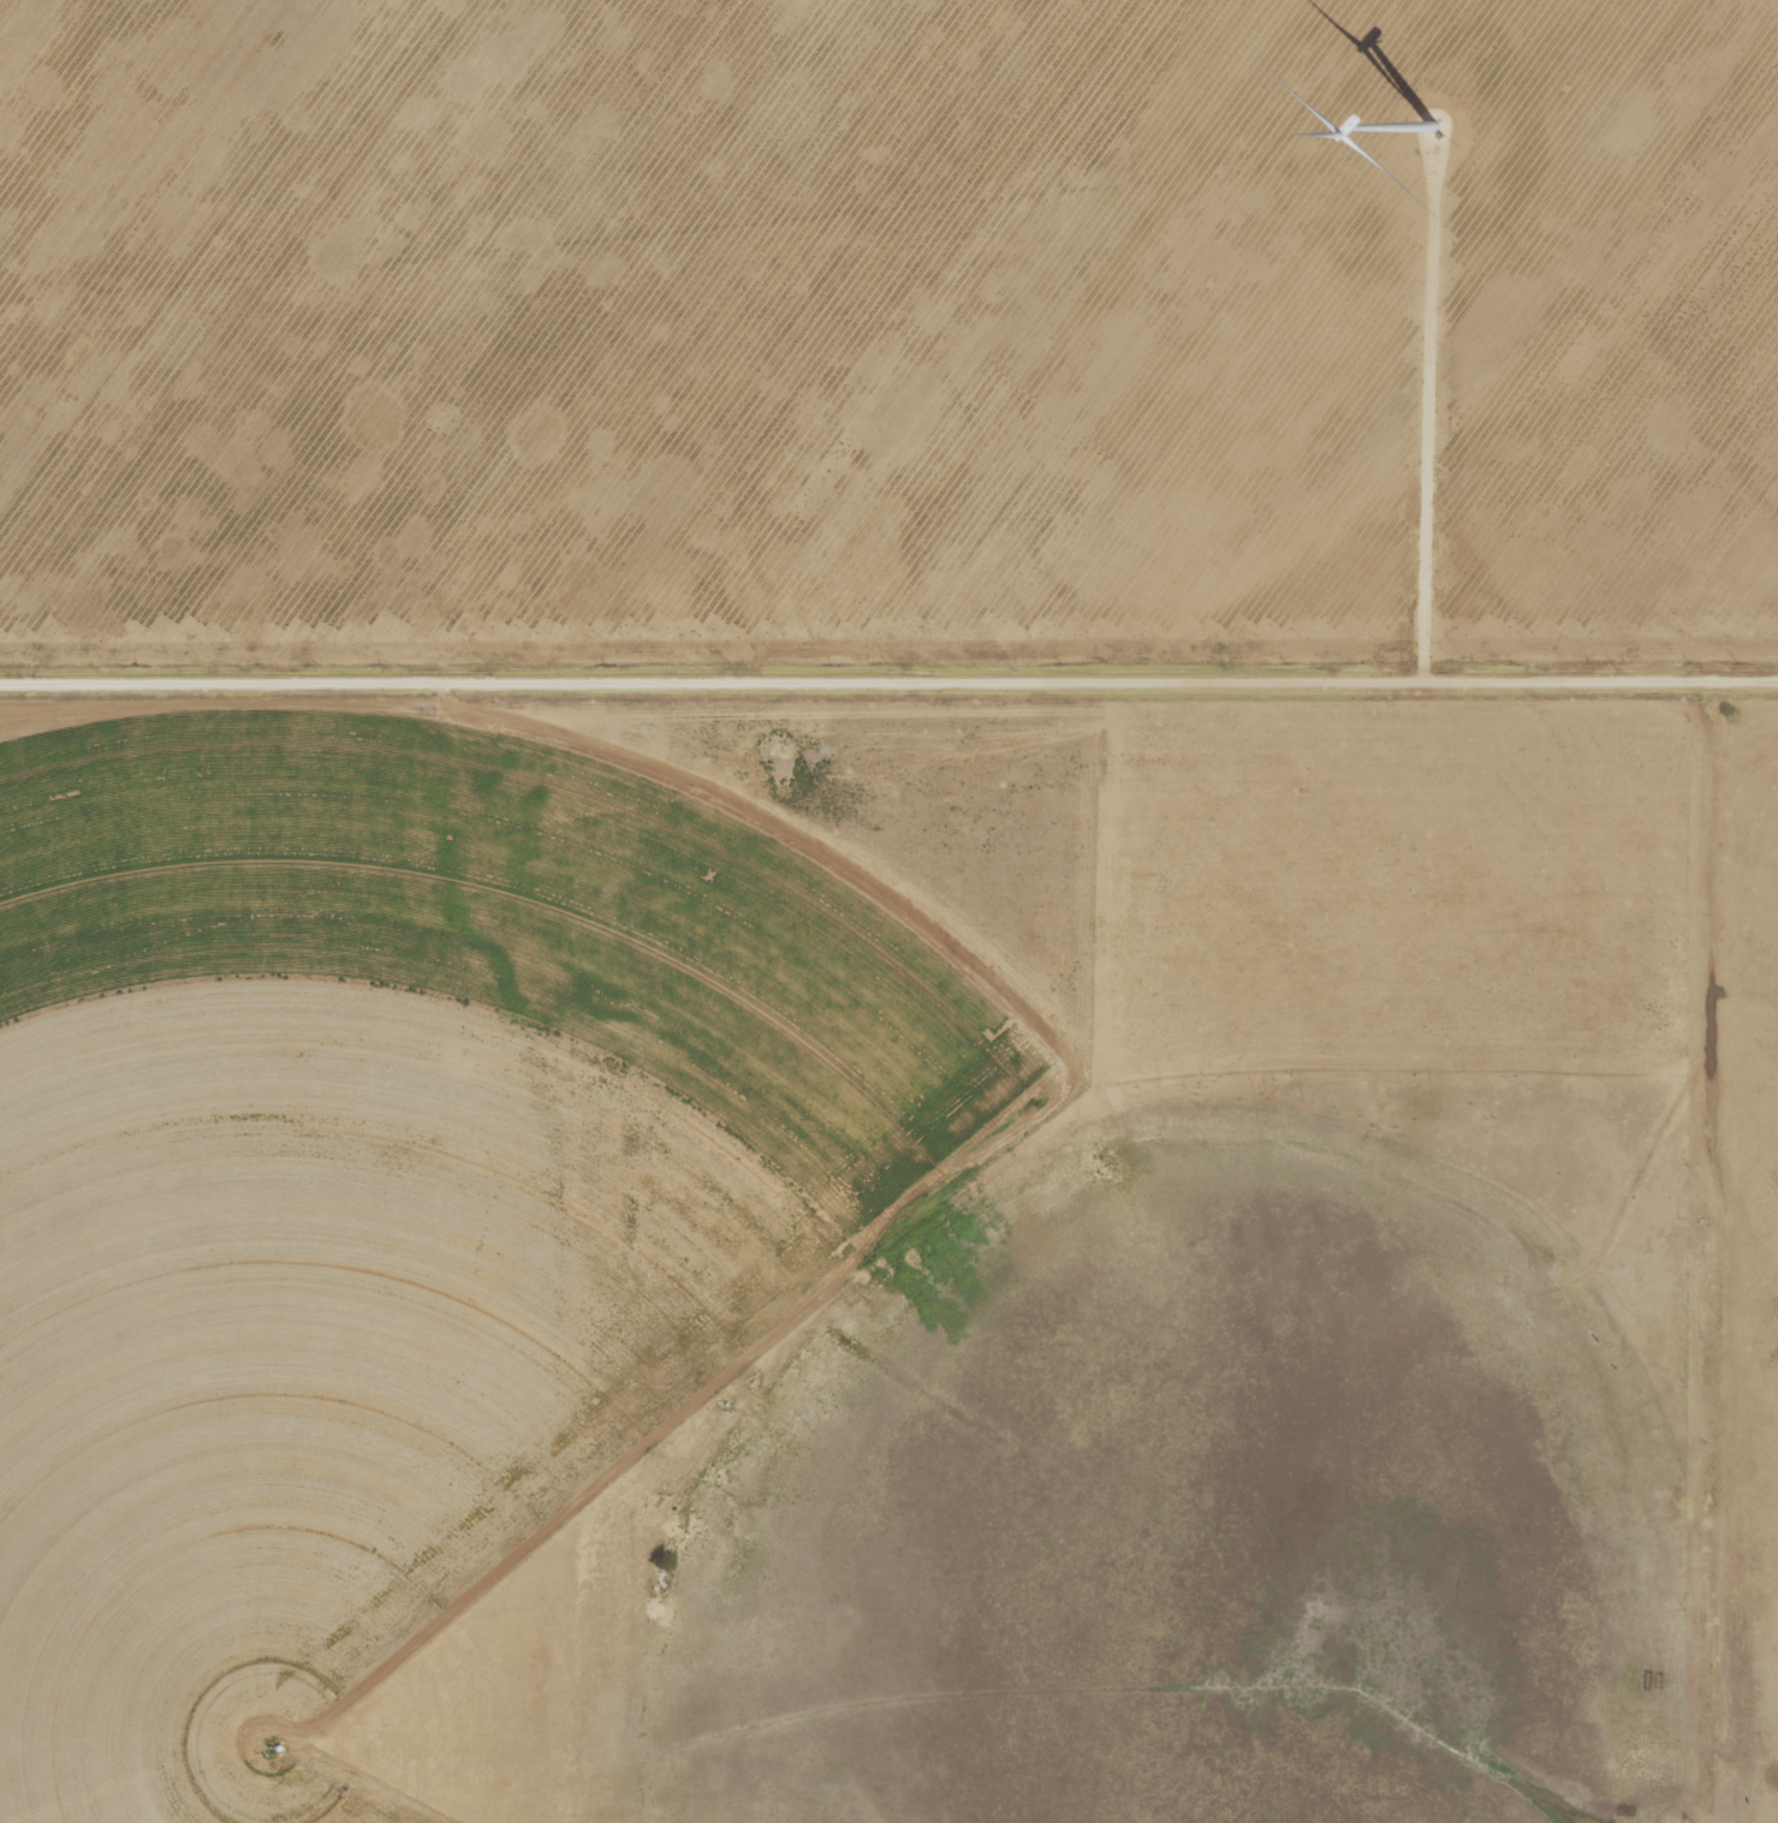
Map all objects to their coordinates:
wind turbine: (1428, 130)
road: (888, 685)

